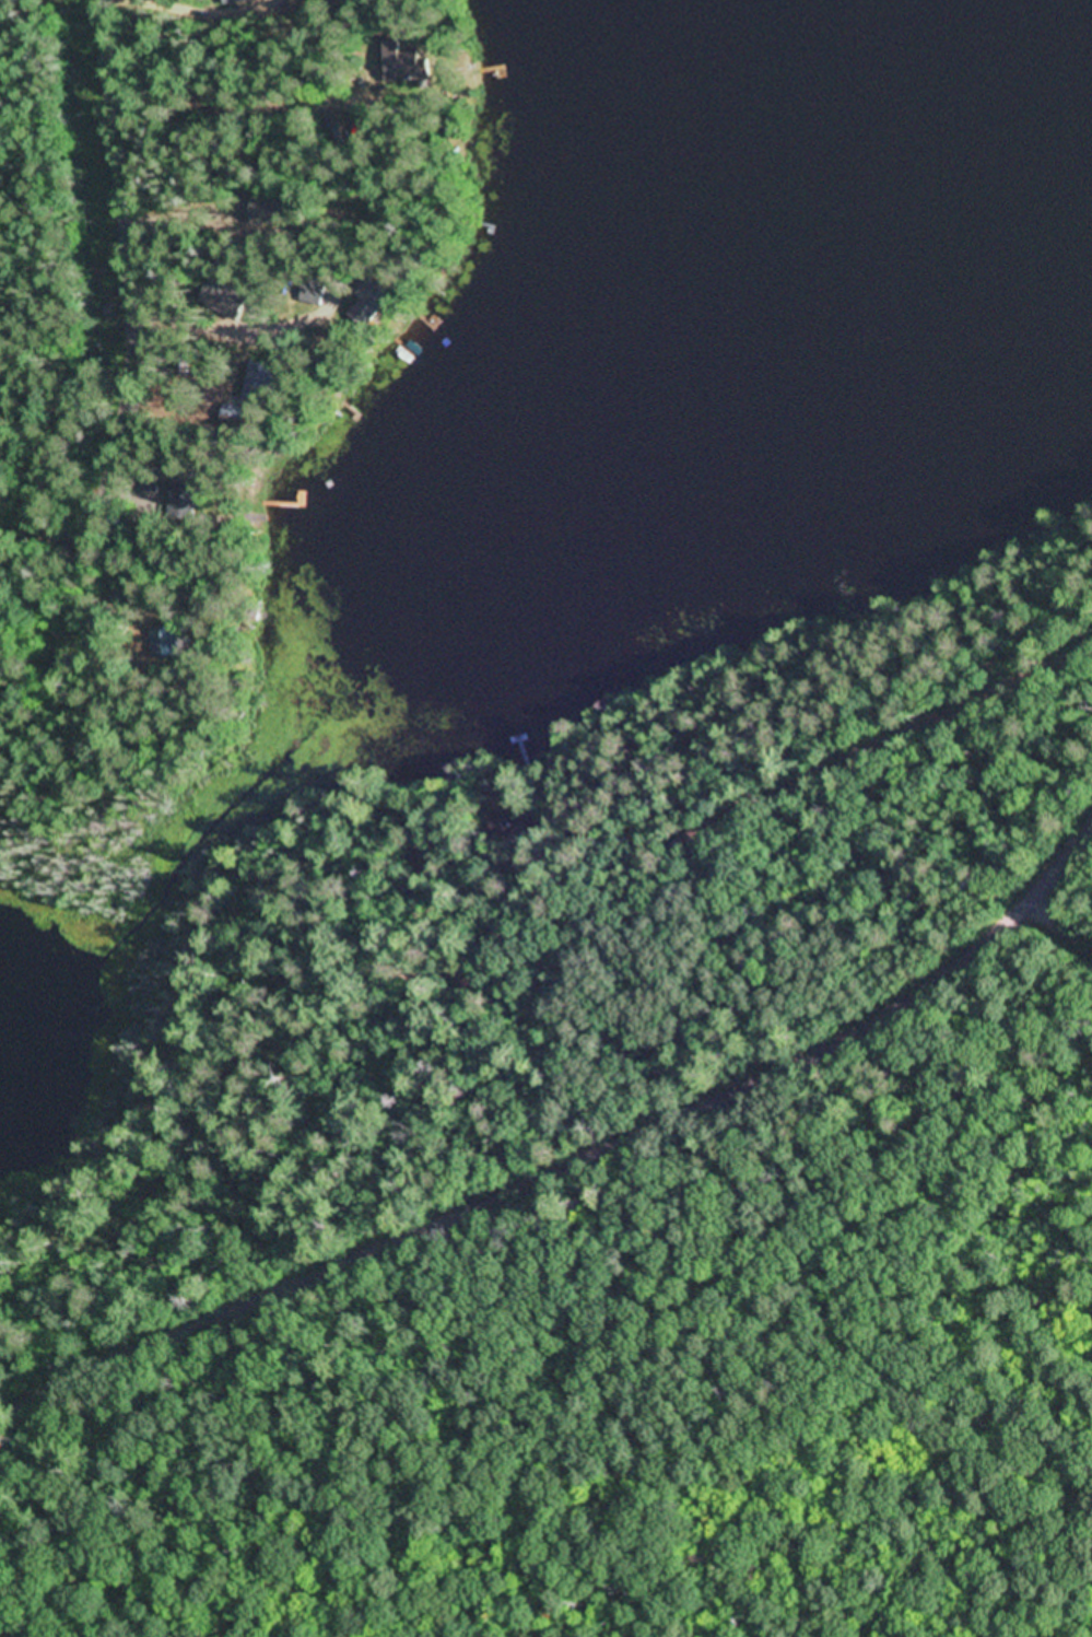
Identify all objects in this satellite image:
road: (130, 194)
building: (274, 207)
building: (314, 290)
building: (261, 381)
building: (167, 640)
road: (907, 837)
road: (570, 1164)

